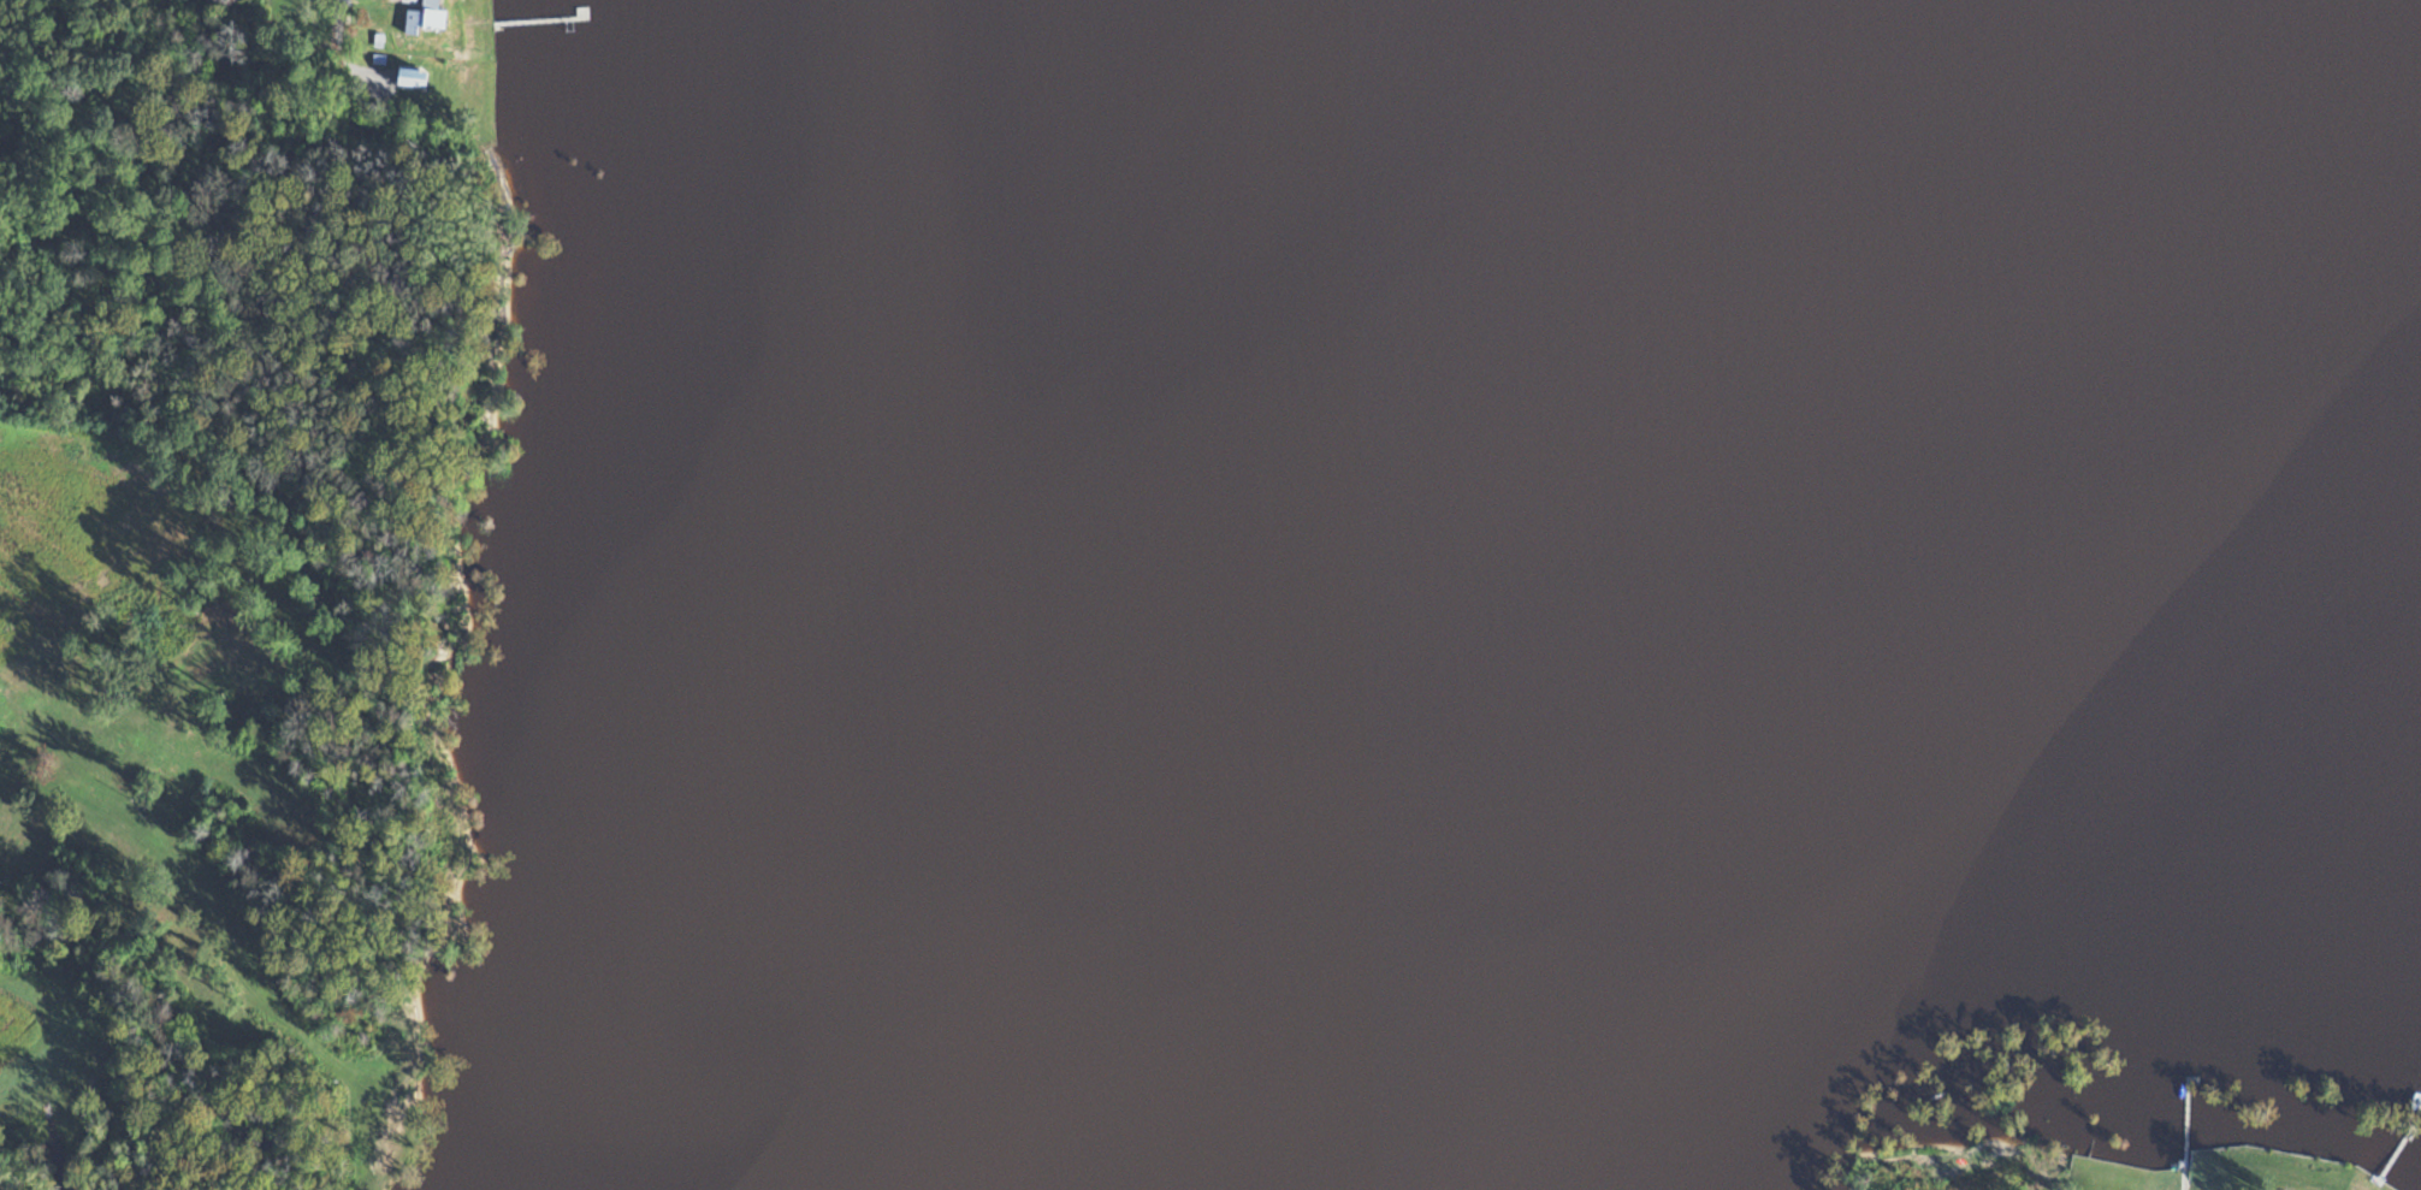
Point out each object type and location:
building: (422, 17)
park: (232, 708)
building: (390, 1155)

